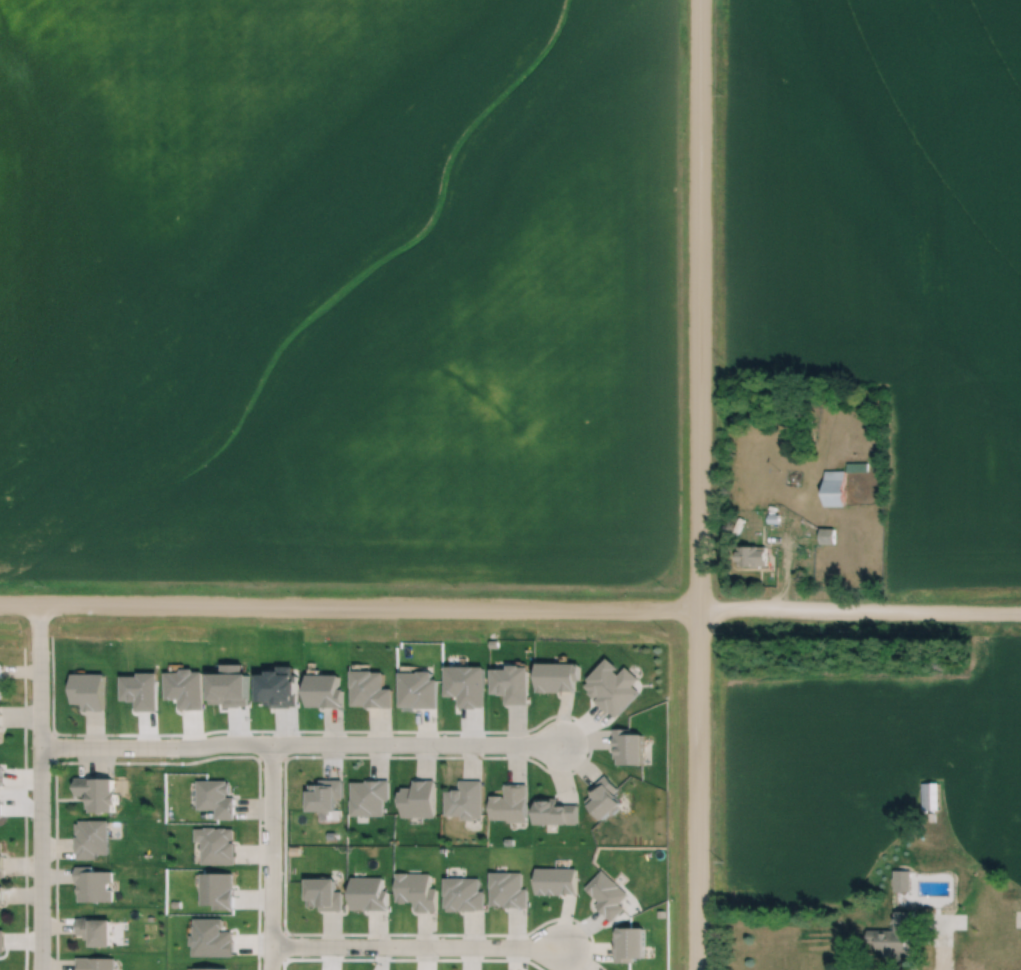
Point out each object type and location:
crop: (198, 209)
road: (696, 306)
crop: (468, 369)
building: (835, 488)
building: (753, 556)
road: (347, 608)
road: (858, 614)
building: (0, 681)
building: (0, 725)
road: (297, 744)
road: (38, 786)
road: (697, 791)
building: (97, 794)
building: (931, 796)
building: (1, 810)
road: (266, 857)
building: (94, 885)
building: (1, 895)
building: (95, 931)
building: (891, 939)
road: (414, 945)
road: (932, 959)

